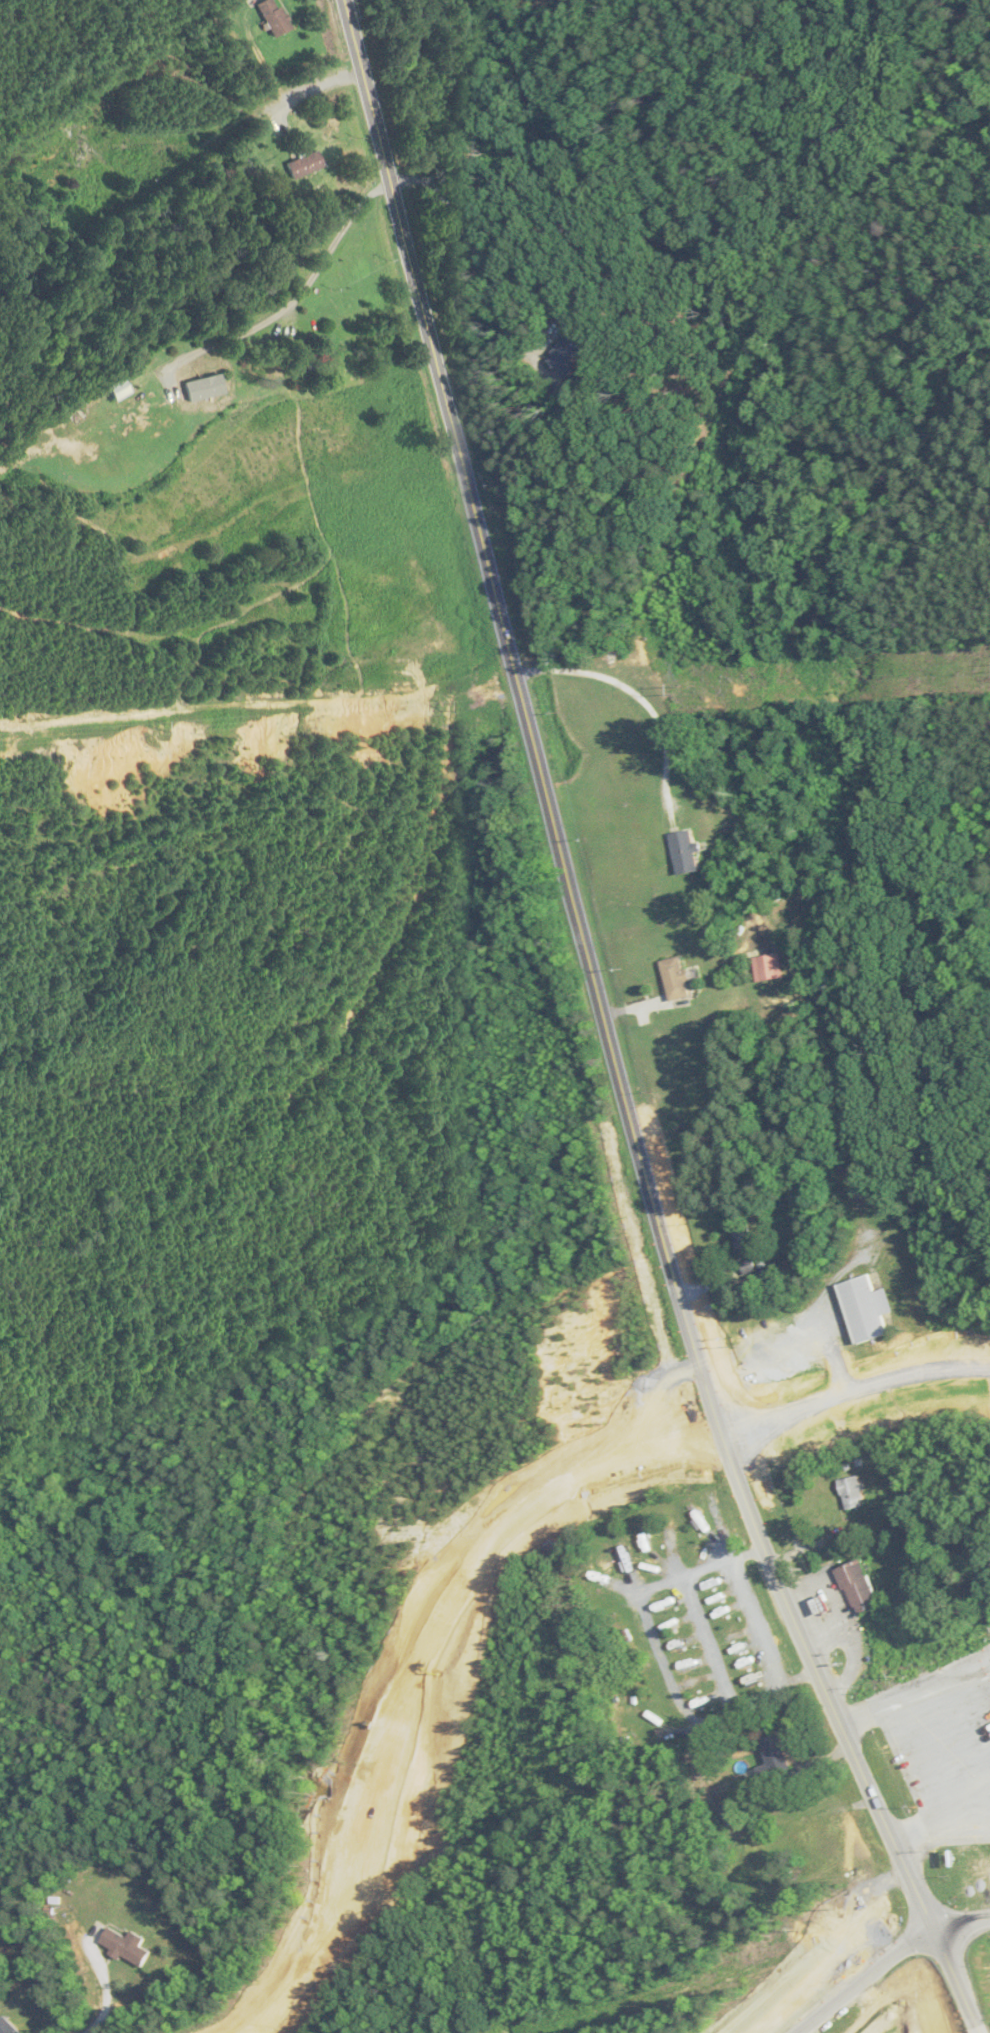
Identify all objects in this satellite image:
building: (269, 17)
road: (218, 139)
building: (52, 162)
building: (302, 166)
road: (295, 293)
road: (504, 313)
building: (571, 352)
building: (297, 359)
building: (204, 383)
building: (115, 391)
power tower: (674, 686)
road: (636, 696)
power tower: (435, 700)
road: (526, 718)
power tower: (158, 721)
building: (684, 852)
building: (767, 967)
building: (674, 980)
building: (742, 1241)
building: (749, 1267)
building: (865, 1309)
road: (854, 1392)
building: (851, 1493)
building: (698, 1531)
building: (646, 1549)
road: (700, 1570)
building: (860, 1586)
building: (610, 1591)
building: (722, 1604)
gas station: (821, 1605)
road: (762, 1620)
building: (671, 1621)
road: (710, 1642)
road: (664, 1662)
building: (745, 1666)
road: (418, 1670)
road: (821, 1684)
building: (692, 1690)
road: (752, 1700)
building: (772, 1759)
building: (729, 1814)
road: (954, 1926)
building: (124, 1947)
road: (851, 1985)
road: (940, 1985)
road: (102, 1988)
building: (6, 2026)

